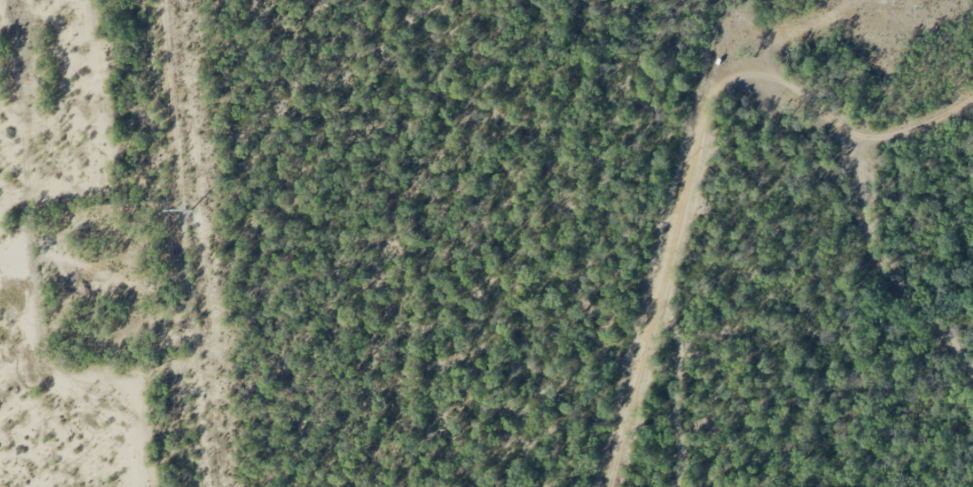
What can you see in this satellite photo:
road: (853, 164)
power tower: (189, 210)

